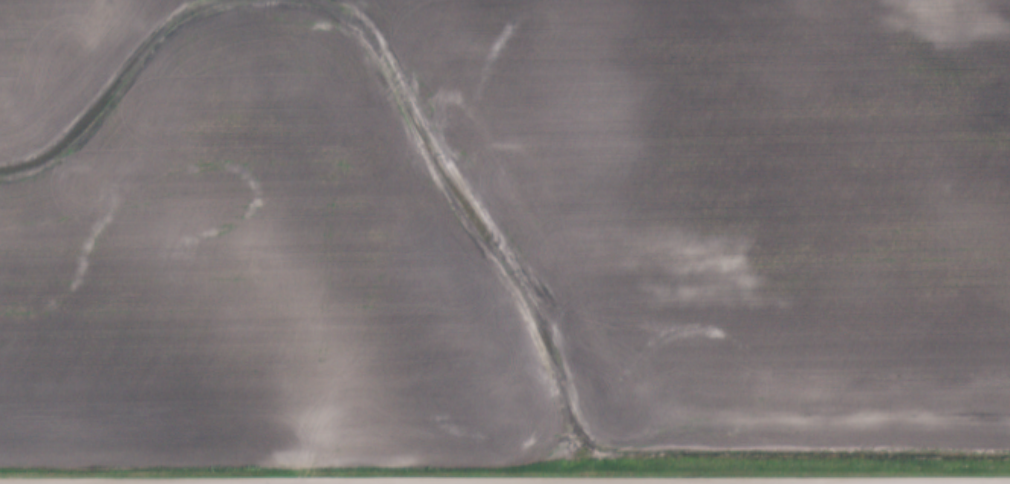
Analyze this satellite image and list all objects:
road: (716, 483)

